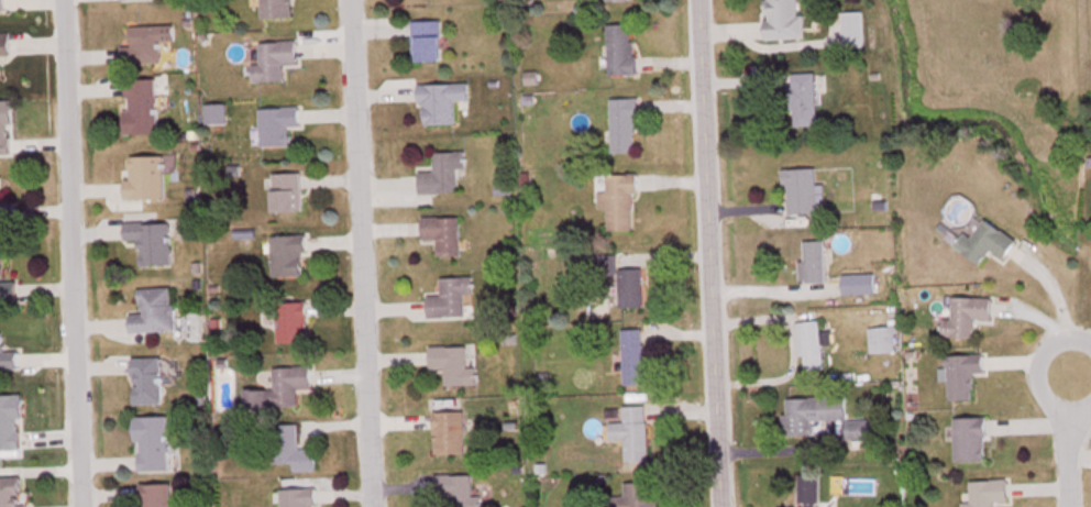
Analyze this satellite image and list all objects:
building: (137, 1)
building: (620, 2)
building: (4, 7)
building: (278, 10)
building: (786, 21)
building: (855, 32)
building: (430, 44)
building: (150, 47)
building: (4, 51)
building: (624, 53)
building: (276, 64)
building: (806, 102)
building: (444, 106)
building: (144, 108)
building: (279, 128)
building: (626, 129)
building: (7, 131)
building: (443, 174)
building: (145, 178)
building: (285, 191)
building: (801, 192)
building: (618, 200)
building: (7, 208)
building: (441, 231)
building: (151, 239)
building: (983, 240)
road: (67, 253)
building: (286, 253)
road: (359, 253)
road: (708, 253)
building: (812, 261)
building: (850, 282)
building: (7, 286)
building: (629, 286)
building: (451, 297)
building: (152, 308)
building: (965, 313)
building: (290, 319)
building: (881, 338)
building: (809, 342)
building: (630, 354)
building: (8, 355)
road: (1081, 357)
building: (452, 362)
road: (1081, 363)
building: (961, 373)
building: (146, 378)
building: (278, 386)
building: (809, 410)
building: (10, 420)
building: (448, 429)
building: (631, 430)
building: (969, 437)
road: (1065, 437)
building: (152, 441)
building: (290, 445)
building: (455, 489)
building: (807, 489)
building: (11, 491)
building: (985, 492)
building: (154, 494)
building: (633, 495)
building: (296, 496)

